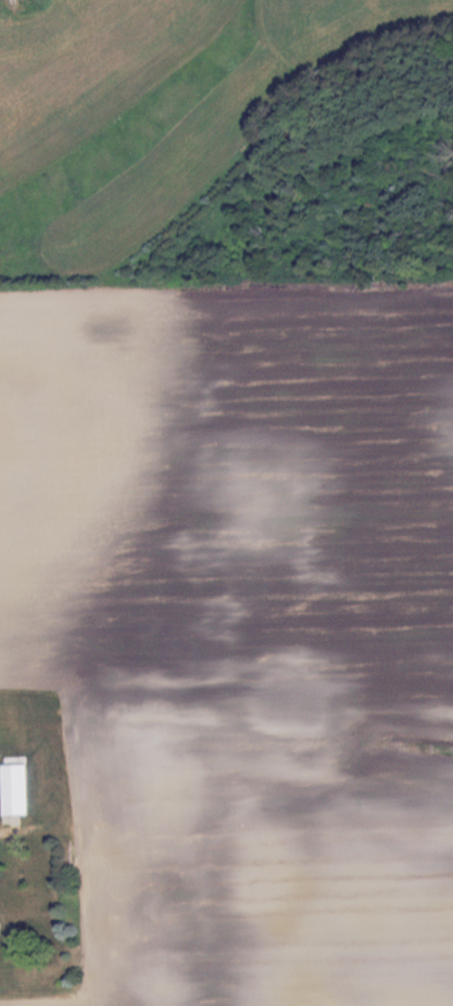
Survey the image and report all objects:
building: (20, 790)

